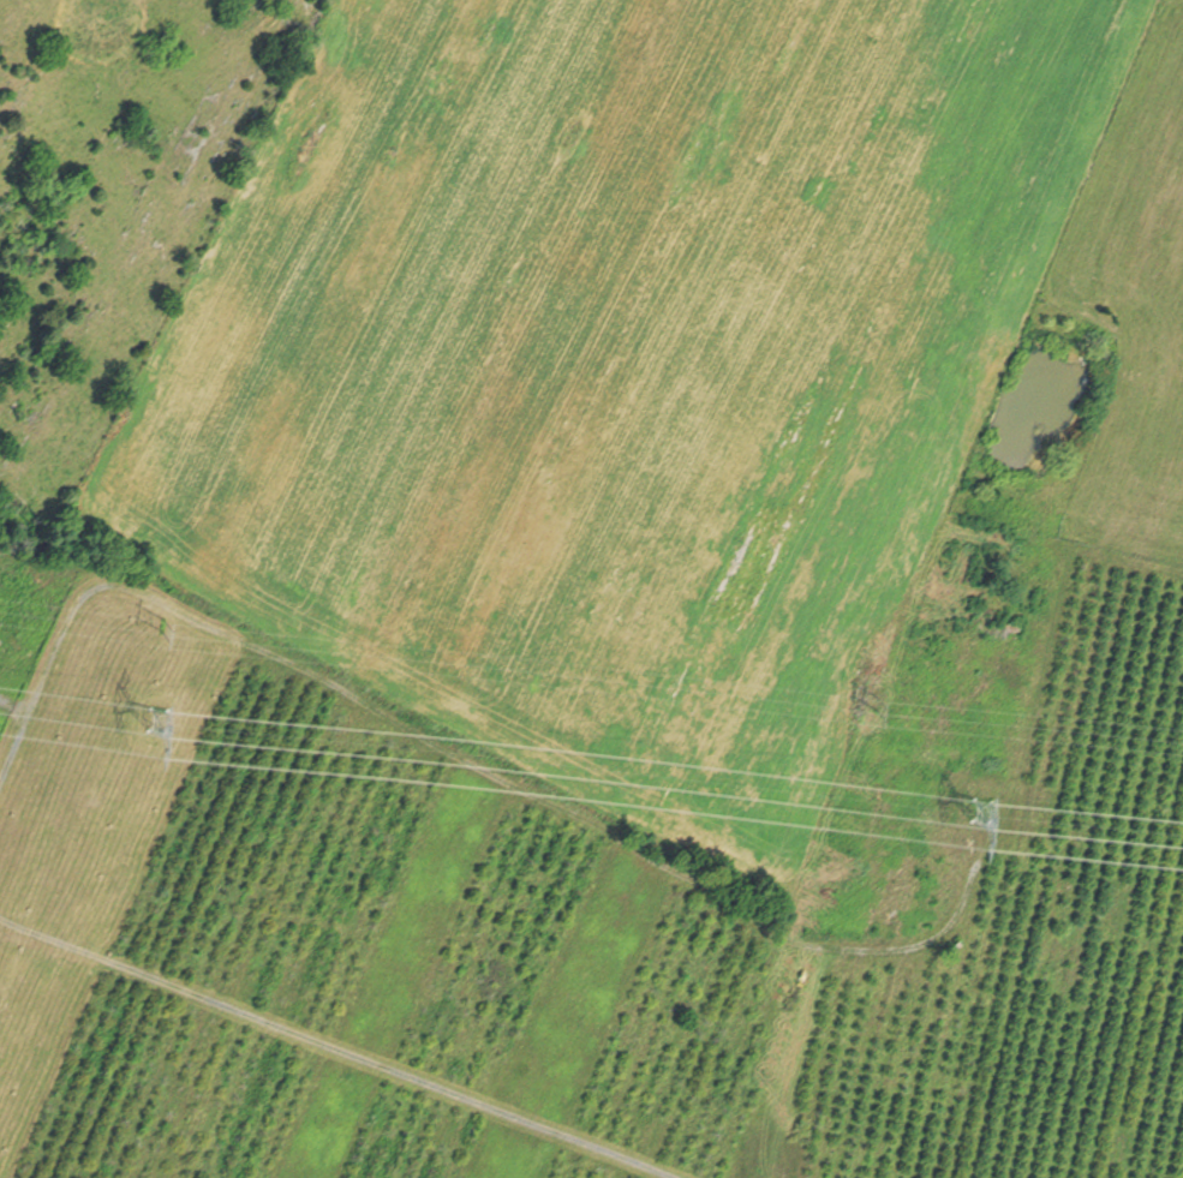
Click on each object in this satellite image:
power tower: (160, 605)
power tower: (174, 690)
power tower: (1023, 701)
power tower: (1030, 788)
road: (333, 1050)

